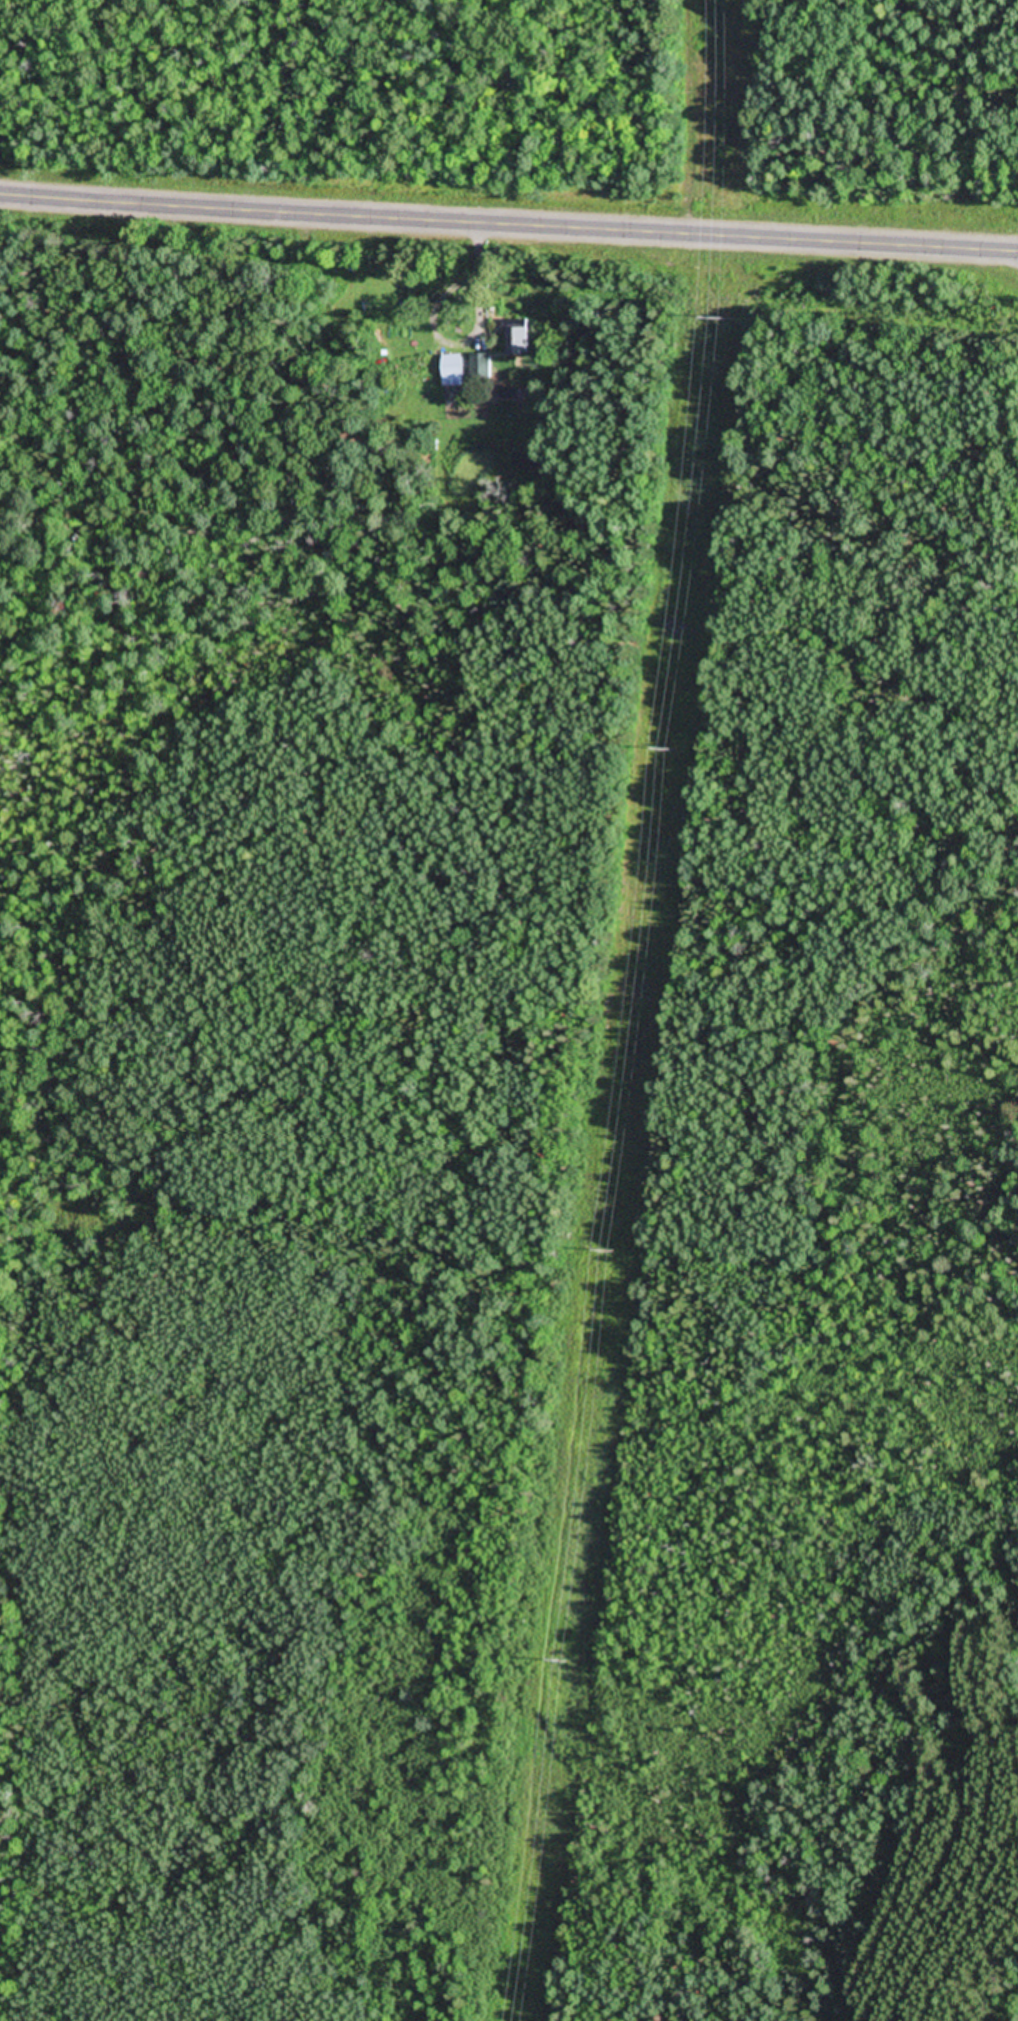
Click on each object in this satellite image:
road: (508, 222)
building: (346, 283)
power tower: (718, 319)
building: (518, 337)
building: (481, 367)
building: (453, 372)
power tower: (669, 751)
power tower: (610, 1251)
power tower: (558, 1660)

